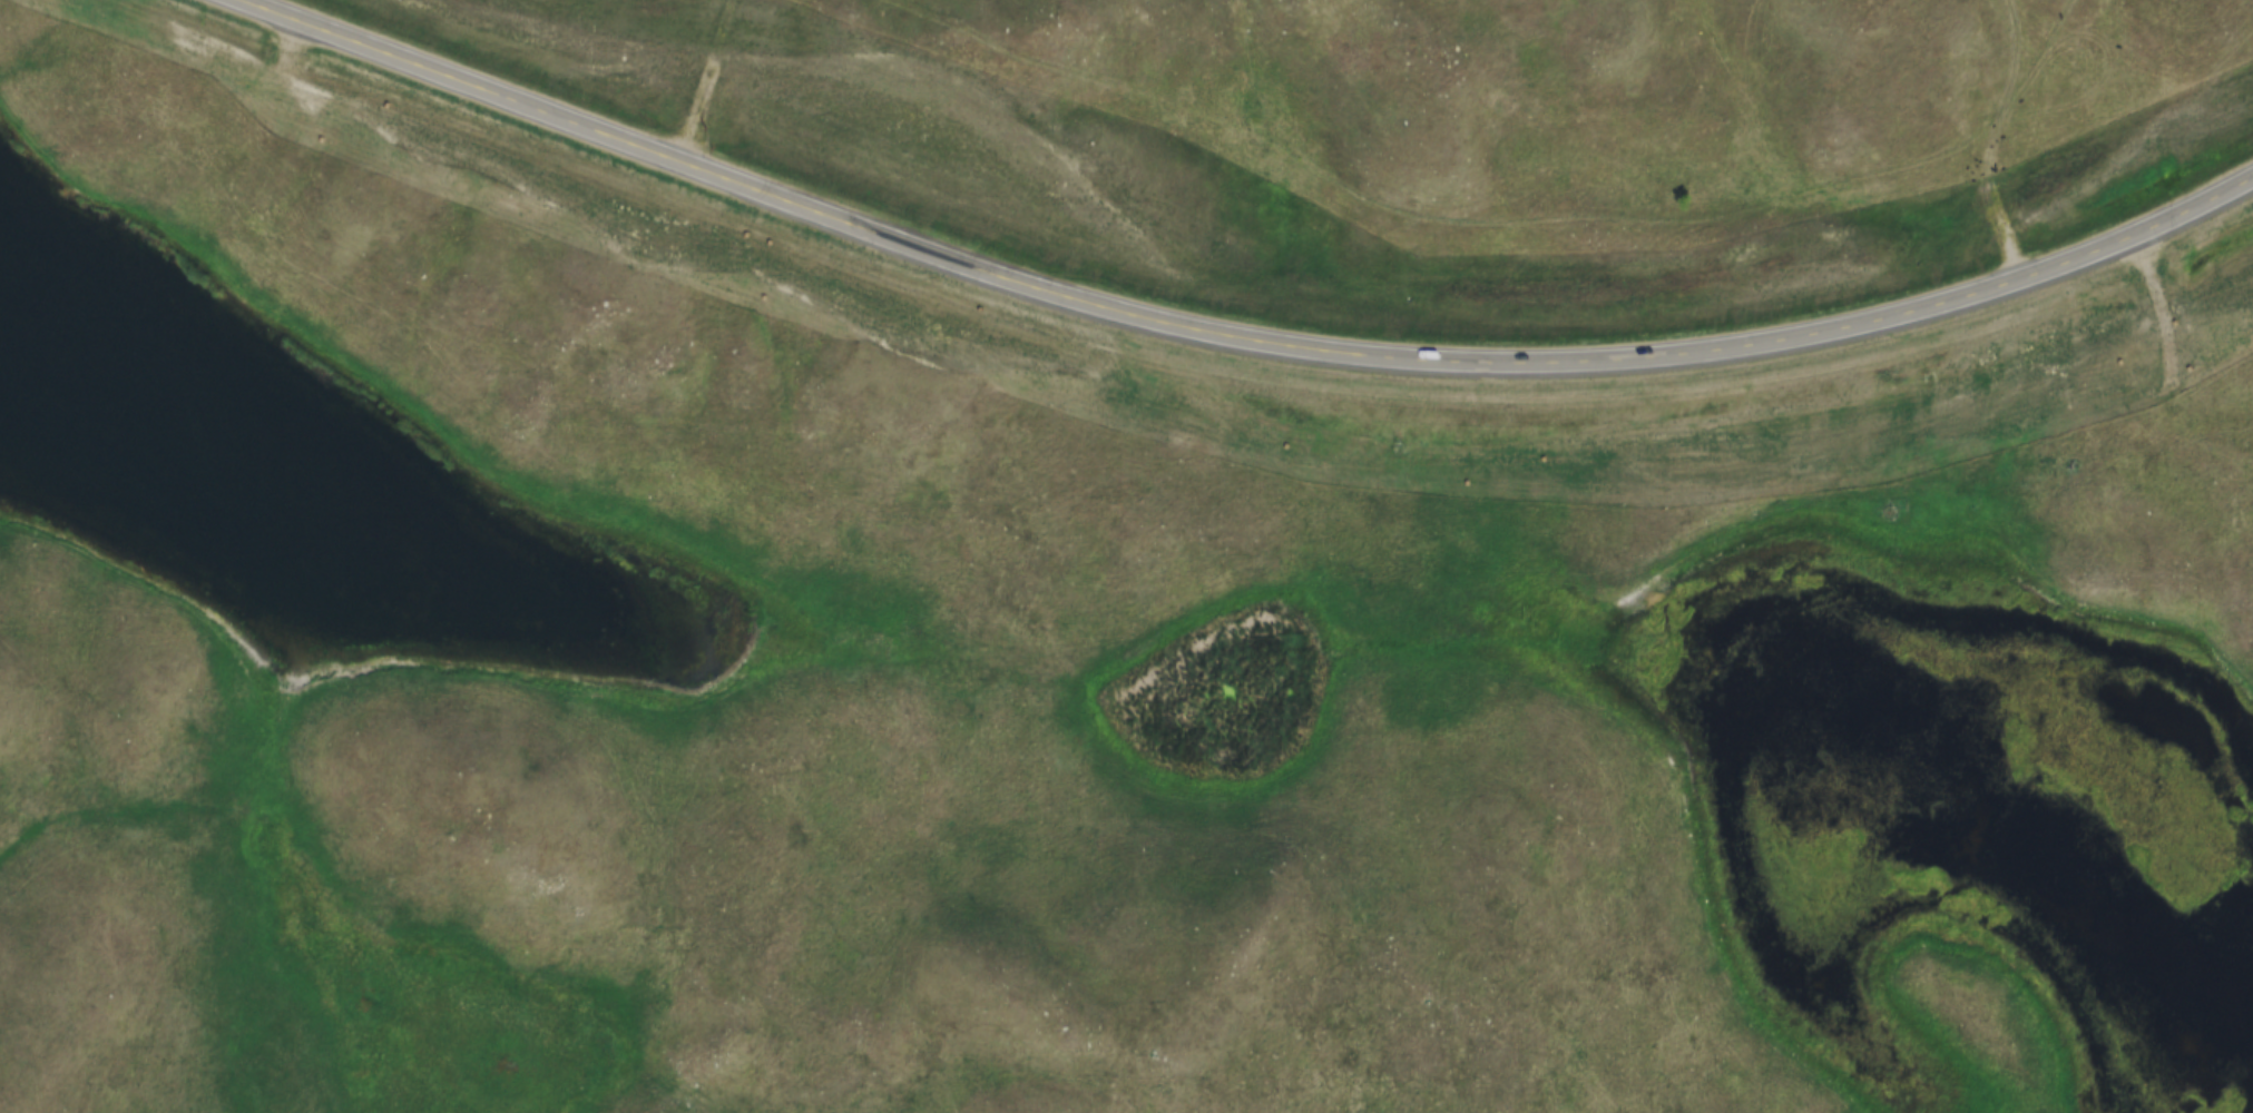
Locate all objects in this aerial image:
road: (1232, 364)

